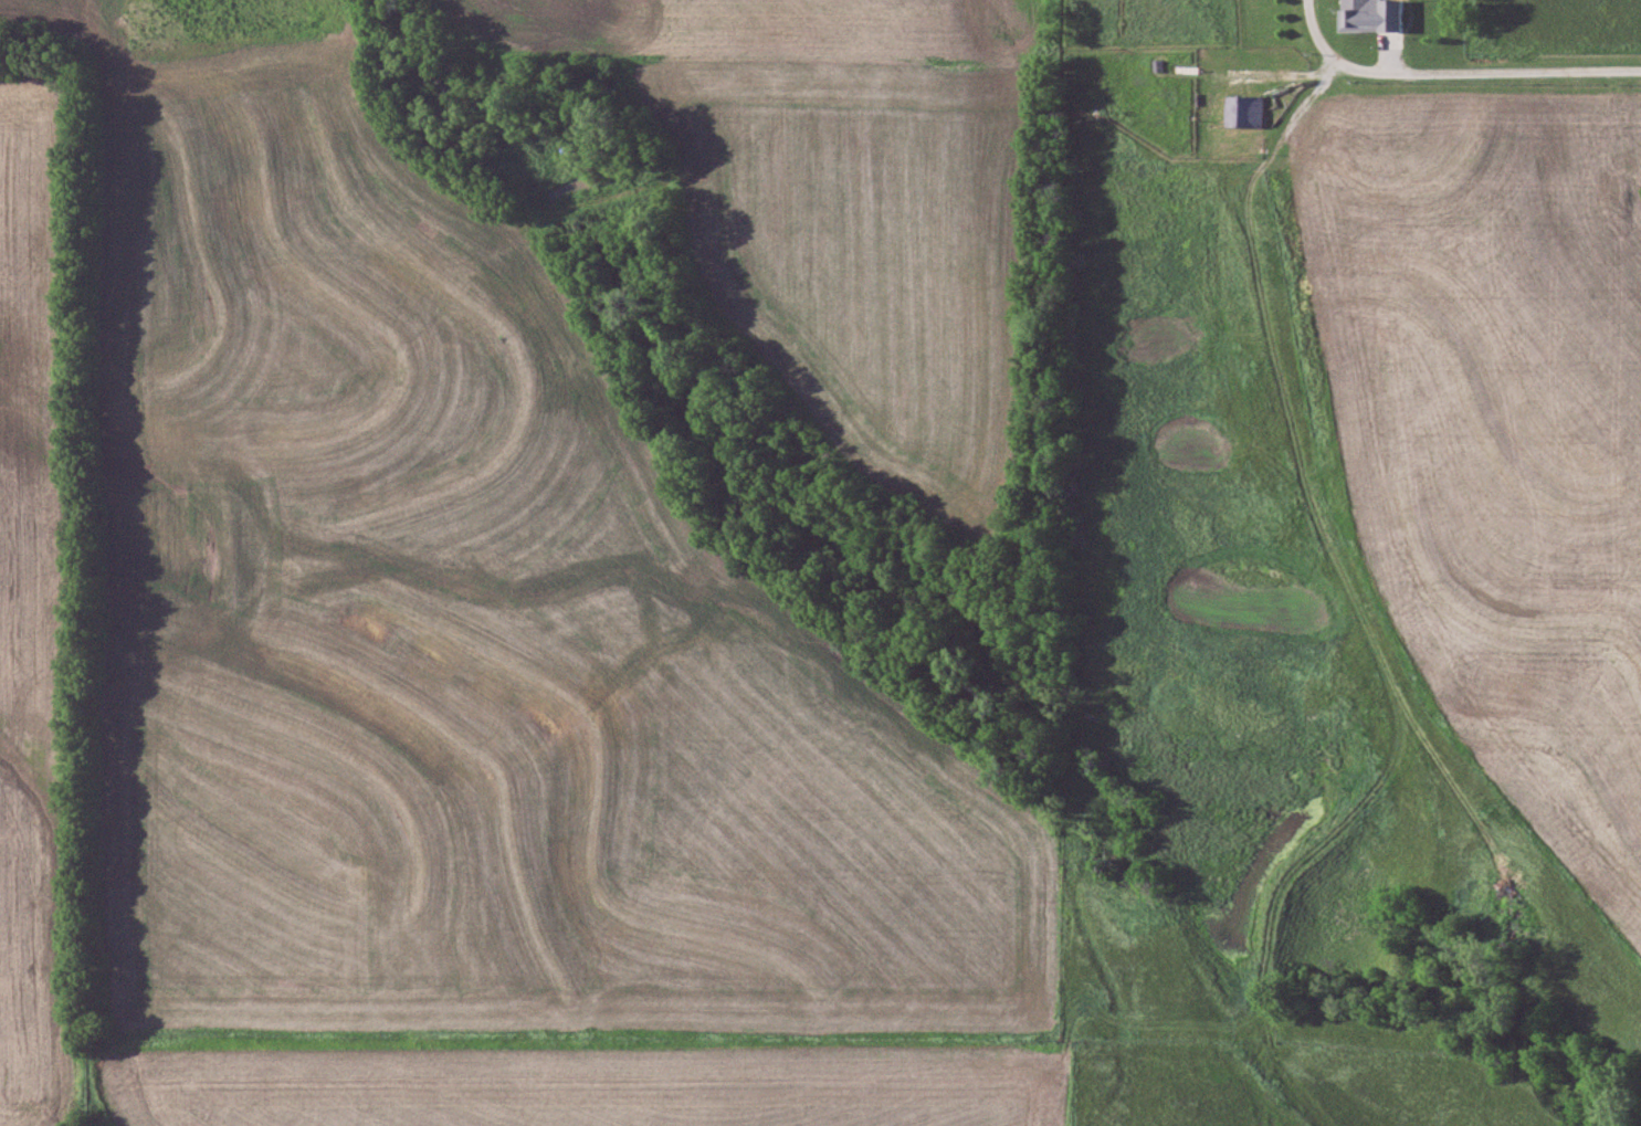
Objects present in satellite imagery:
building: (1377, 13)
road: (1455, 66)
building: (1248, 107)

